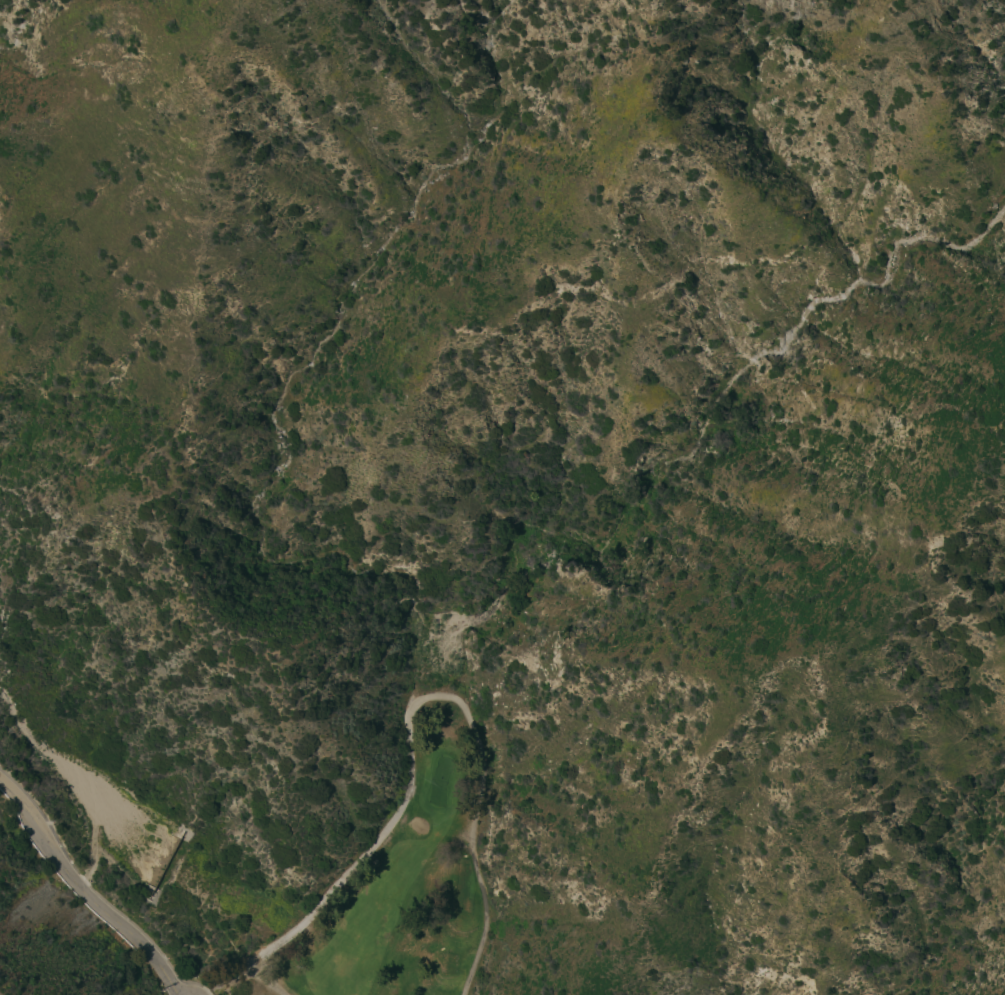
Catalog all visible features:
road: (410, 709)
road: (97, 862)
park: (399, 881)
road: (81, 894)
road: (1, 993)

